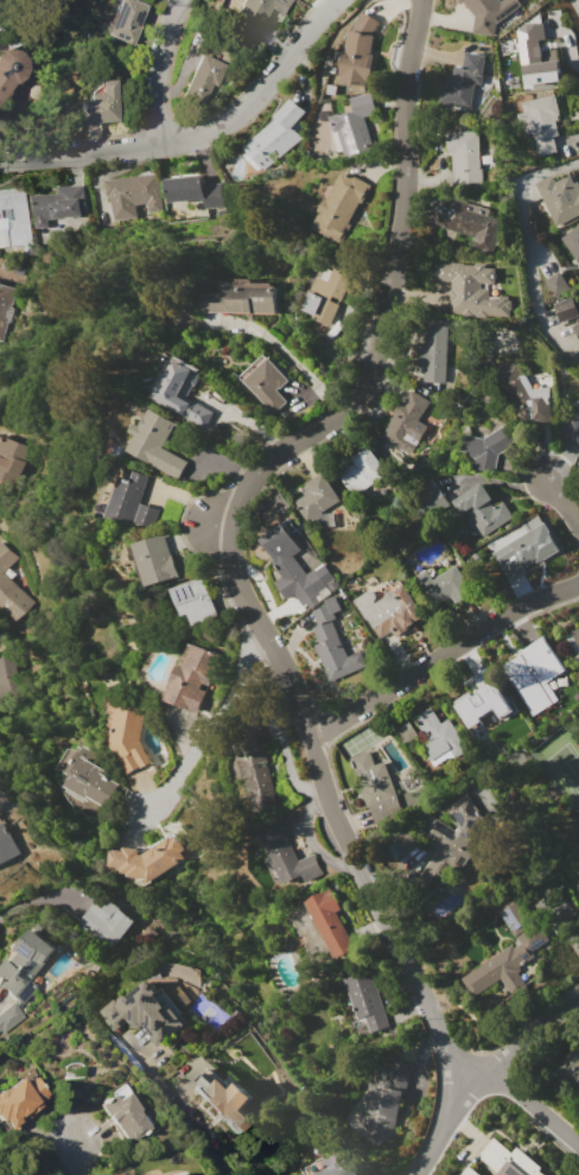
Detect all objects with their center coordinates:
building: (490, 13)
building: (254, 14)
building: (126, 20)
building: (360, 52)
building: (536, 55)
road: (161, 69)
building: (12, 70)
building: (465, 78)
building: (202, 80)
building: (101, 103)
building: (540, 122)
building: (354, 127)
building: (274, 136)
road: (197, 138)
building: (465, 157)
building: (195, 190)
building: (134, 195)
building: (560, 197)
building: (58, 204)
building: (339, 207)
building: (13, 218)
building: (466, 220)
road: (526, 241)
building: (572, 242)
building: (555, 284)
building: (472, 288)
road: (387, 290)
building: (327, 291)
building: (240, 299)
building: (5, 306)
building: (566, 307)
building: (575, 328)
road: (282, 349)
building: (434, 352)
building: (265, 382)
building: (183, 393)
building: (524, 396)
building: (407, 420)
building: (573, 430)
building: (155, 443)
building: (488, 447)
building: (12, 458)
building: (361, 471)
building: (317, 496)
road: (564, 502)
building: (132, 503)
building: (483, 508)
building: (526, 551)
building: (158, 560)
building: (298, 570)
building: (11, 585)
building: (446, 585)
building: (198, 601)
building: (326, 610)
building: (389, 611)
building: (325, 630)
building: (574, 640)
road: (441, 652)
building: (338, 658)
building: (535, 667)
building: (7, 677)
building: (193, 678)
building: (486, 700)
road: (211, 723)
building: (405, 732)
building: (126, 735)
building: (440, 737)
building: (254, 769)
building: (89, 783)
building: (377, 792)
road: (332, 808)
building: (405, 841)
building: (446, 844)
building: (7, 845)
building: (288, 856)
building: (149, 858)
road: (33, 898)
building: (515, 916)
building: (106, 921)
building: (330, 921)
building: (303, 923)
building: (509, 961)
building: (25, 966)
building: (367, 1002)
building: (146, 1012)
building: (8, 1017)
road: (529, 1037)
building: (201, 1060)
building: (570, 1068)
building: (388, 1091)
building: (218, 1093)
building: (20, 1101)
road: (533, 1105)
road: (179, 1109)
building: (125, 1113)
road: (446, 1124)
road: (70, 1157)
building: (501, 1164)
building: (327, 1166)
building: (168, 1174)
building: (178, 1174)

